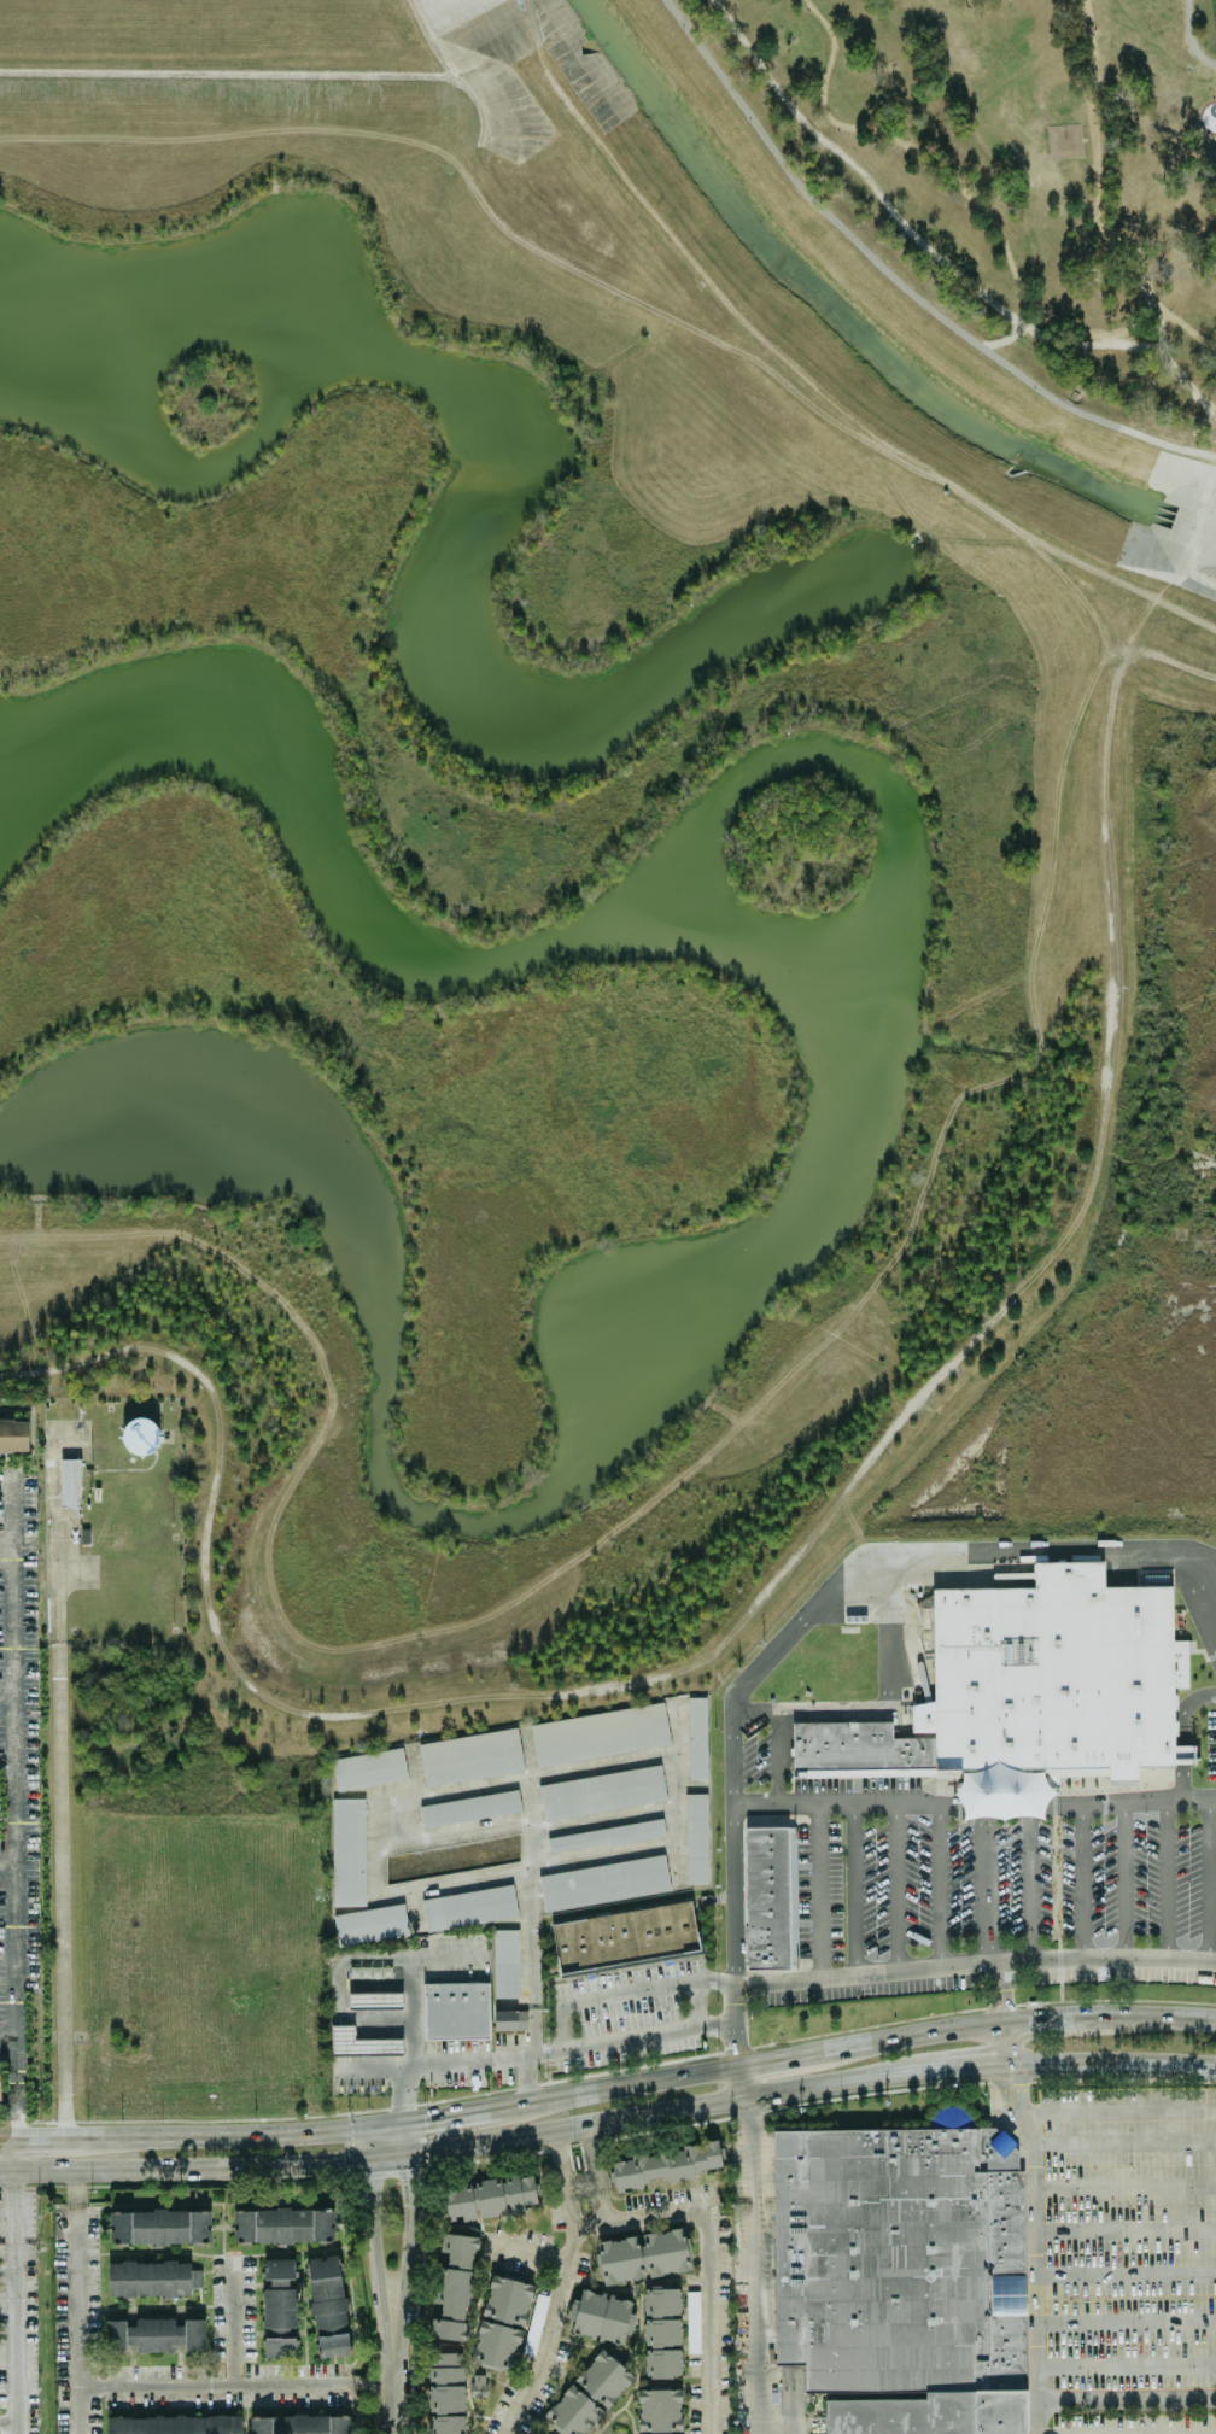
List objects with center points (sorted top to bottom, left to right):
road: (1187, 40)
road: (907, 151)
road: (1093, 195)
park: (990, 200)
road: (904, 230)
road: (895, 283)
road: (1058, 321)
river: (860, 323)
road: (1119, 334)
road: (1153, 339)
road: (1211, 356)
road: (1173, 373)
road: (1199, 399)
building: (13, 1435)
building: (69, 1482)
road: (6, 1541)
road: (1215, 1560)
road: (1215, 1572)
road: (1189, 1597)
road: (790, 1630)
building: (1052, 1675)
road: (6, 1695)
road: (891, 1709)
building: (598, 1733)
road: (1182, 1733)
building: (696, 1739)
building: (858, 1751)
building: (1183, 1755)
building: (470, 1756)
road: (778, 1756)
building: (368, 1771)
road: (415, 1771)
road: (531, 1775)
road: (680, 1791)
building: (601, 1792)
road: (13, 1803)
road: (974, 1807)
building: (469, 1809)
road: (606, 1819)
road: (58, 1829)
road: (455, 1833)
building: (607, 1836)
building: (696, 1838)
road: (379, 1847)
building: (349, 1853)
road: (7, 1862)
road: (530, 1865)
road: (1083, 1879)
road: (1123, 1879)
road: (1165, 1879)
road: (1210, 1879)
road: (1029, 1880)
building: (603, 1883)
road: (986, 1884)
road: (895, 1885)
road: (939, 1886)
road: (853, 1889)
road: (818, 1890)
building: (765, 1897)
building: (469, 1908)
road: (528, 1914)
building: (370, 1925)
building: (626, 1936)
road: (448, 1955)
road: (974, 1962)
building: (507, 1964)
road: (338, 1983)
road: (1001, 1990)
road: (624, 1991)
road: (695, 2002)
building: (457, 2009)
road: (411, 2013)
building: (509, 2019)
road: (1013, 2020)
road: (7, 2036)
building: (361, 2043)
road: (1005, 2043)
road: (532, 2054)
road: (774, 2060)
building: (0, 2073)
road: (739, 2082)
road: (808, 2087)
road: (1016, 2087)
road: (618, 2089)
road: (1001, 2089)
road: (407, 2096)
road: (1113, 2111)
road: (451, 2116)
traffic signals: (404, 2123)
traffic signals: (361, 2129)
road: (201, 2131)
road: (404, 2140)
road: (1123, 2142)
road: (361, 2146)
road: (753, 2148)
road: (14, 2152)
traffic signals: (405, 2157)
road: (384, 2159)
traffic signals: (362, 2163)
building: (665, 2165)
road: (181, 2169)
road: (592, 2173)
road: (565, 2180)
road: (580, 2184)
road: (1123, 2186)
building: (489, 2198)
road: (644, 2216)
building: (282, 2225)
building: (159, 2227)
road: (1124, 2229)
road: (522, 2249)
building: (665, 2252)
building: (619, 2260)
road: (405, 2268)
building: (277, 2269)
road: (1033, 2270)
road: (7, 2271)
road: (372, 2271)
road: (1124, 2271)
building: (902, 2276)
building: (148, 2278)
building: (454, 2288)
road: (14, 2301)
road: (76, 2301)
building: (328, 2306)
building: (279, 2307)
building: (601, 2316)
road: (756, 2317)
road: (1124, 2321)
road: (234, 2322)
building: (692, 2322)
building: (534, 2323)
building: (501, 2324)
building: (661, 2333)
building: (154, 2335)
building: (282, 2347)
road: (1126, 2364)
road: (236, 2385)
building: (478, 2386)
building: (445, 2393)
building: (587, 2395)
road: (1126, 2400)
road: (394, 2406)
building: (659, 2411)
road: (7, 2421)
building: (173, 2424)
building: (300, 2424)

